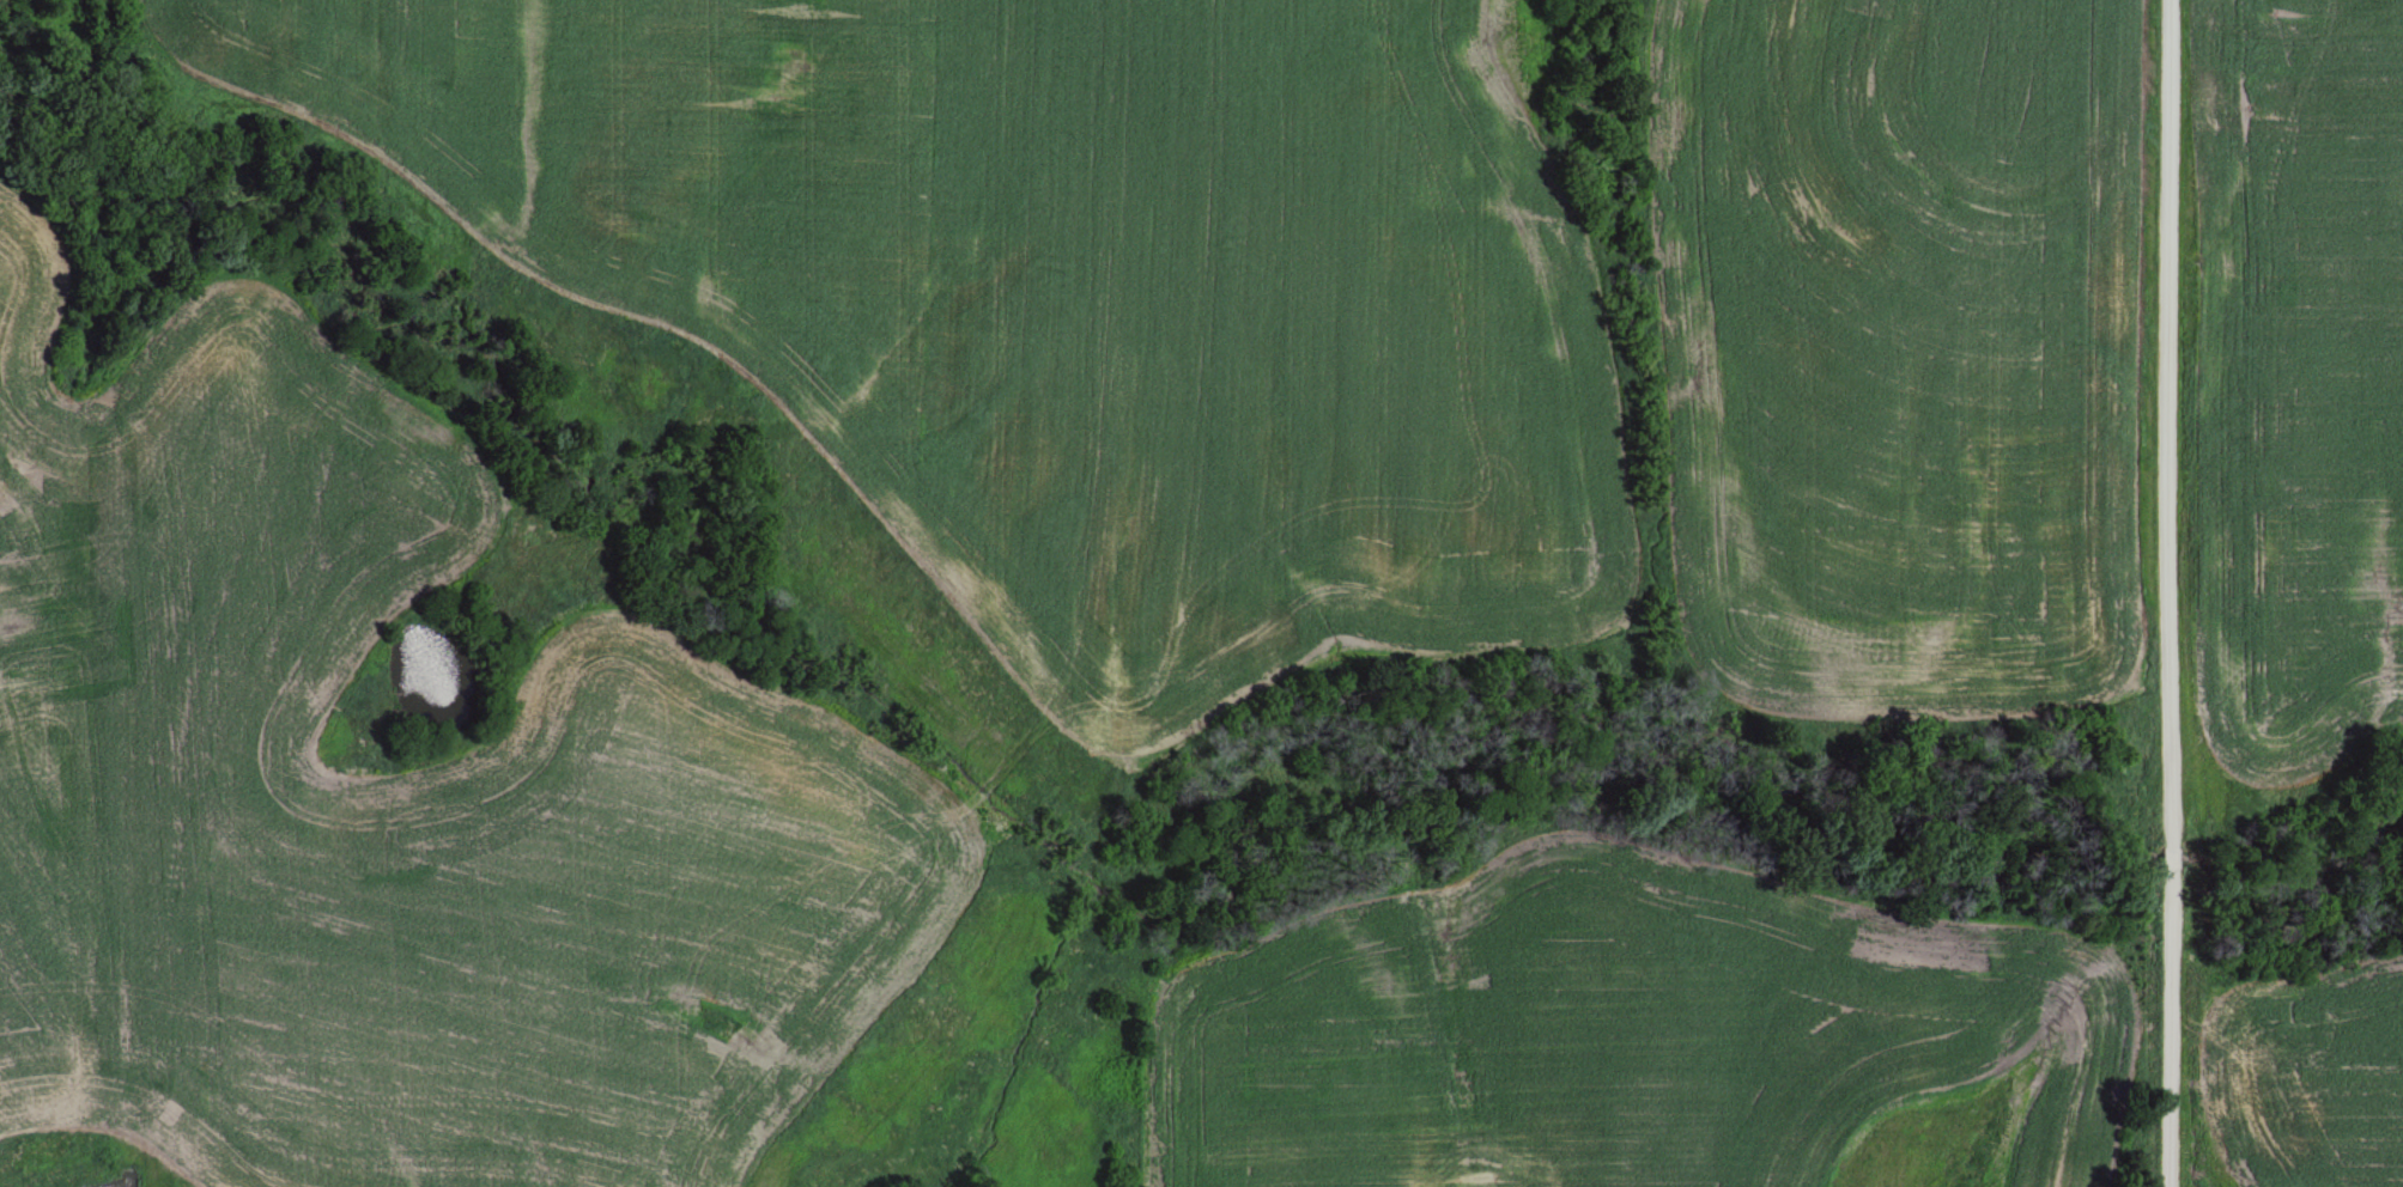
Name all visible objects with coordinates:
road: (2167, 593)

